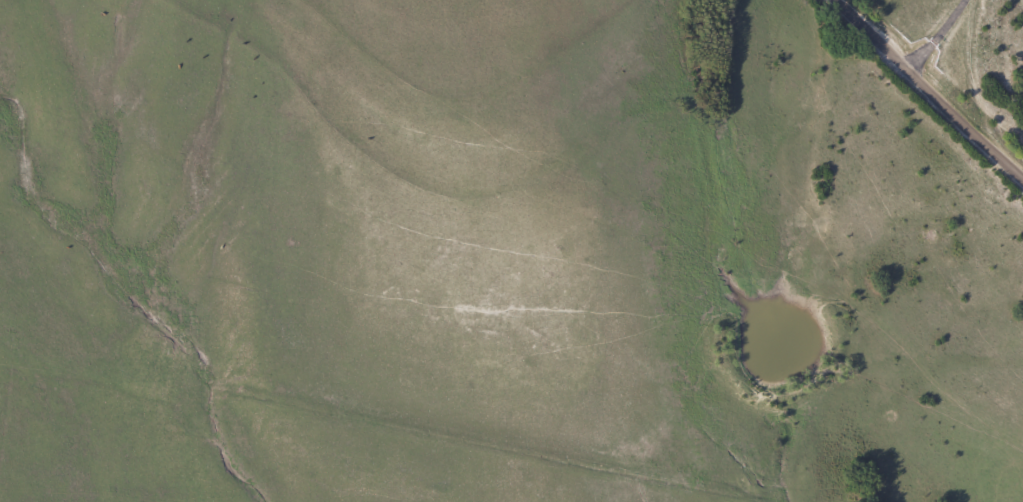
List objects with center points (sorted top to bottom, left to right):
road: (941, 36)
road: (931, 88)

